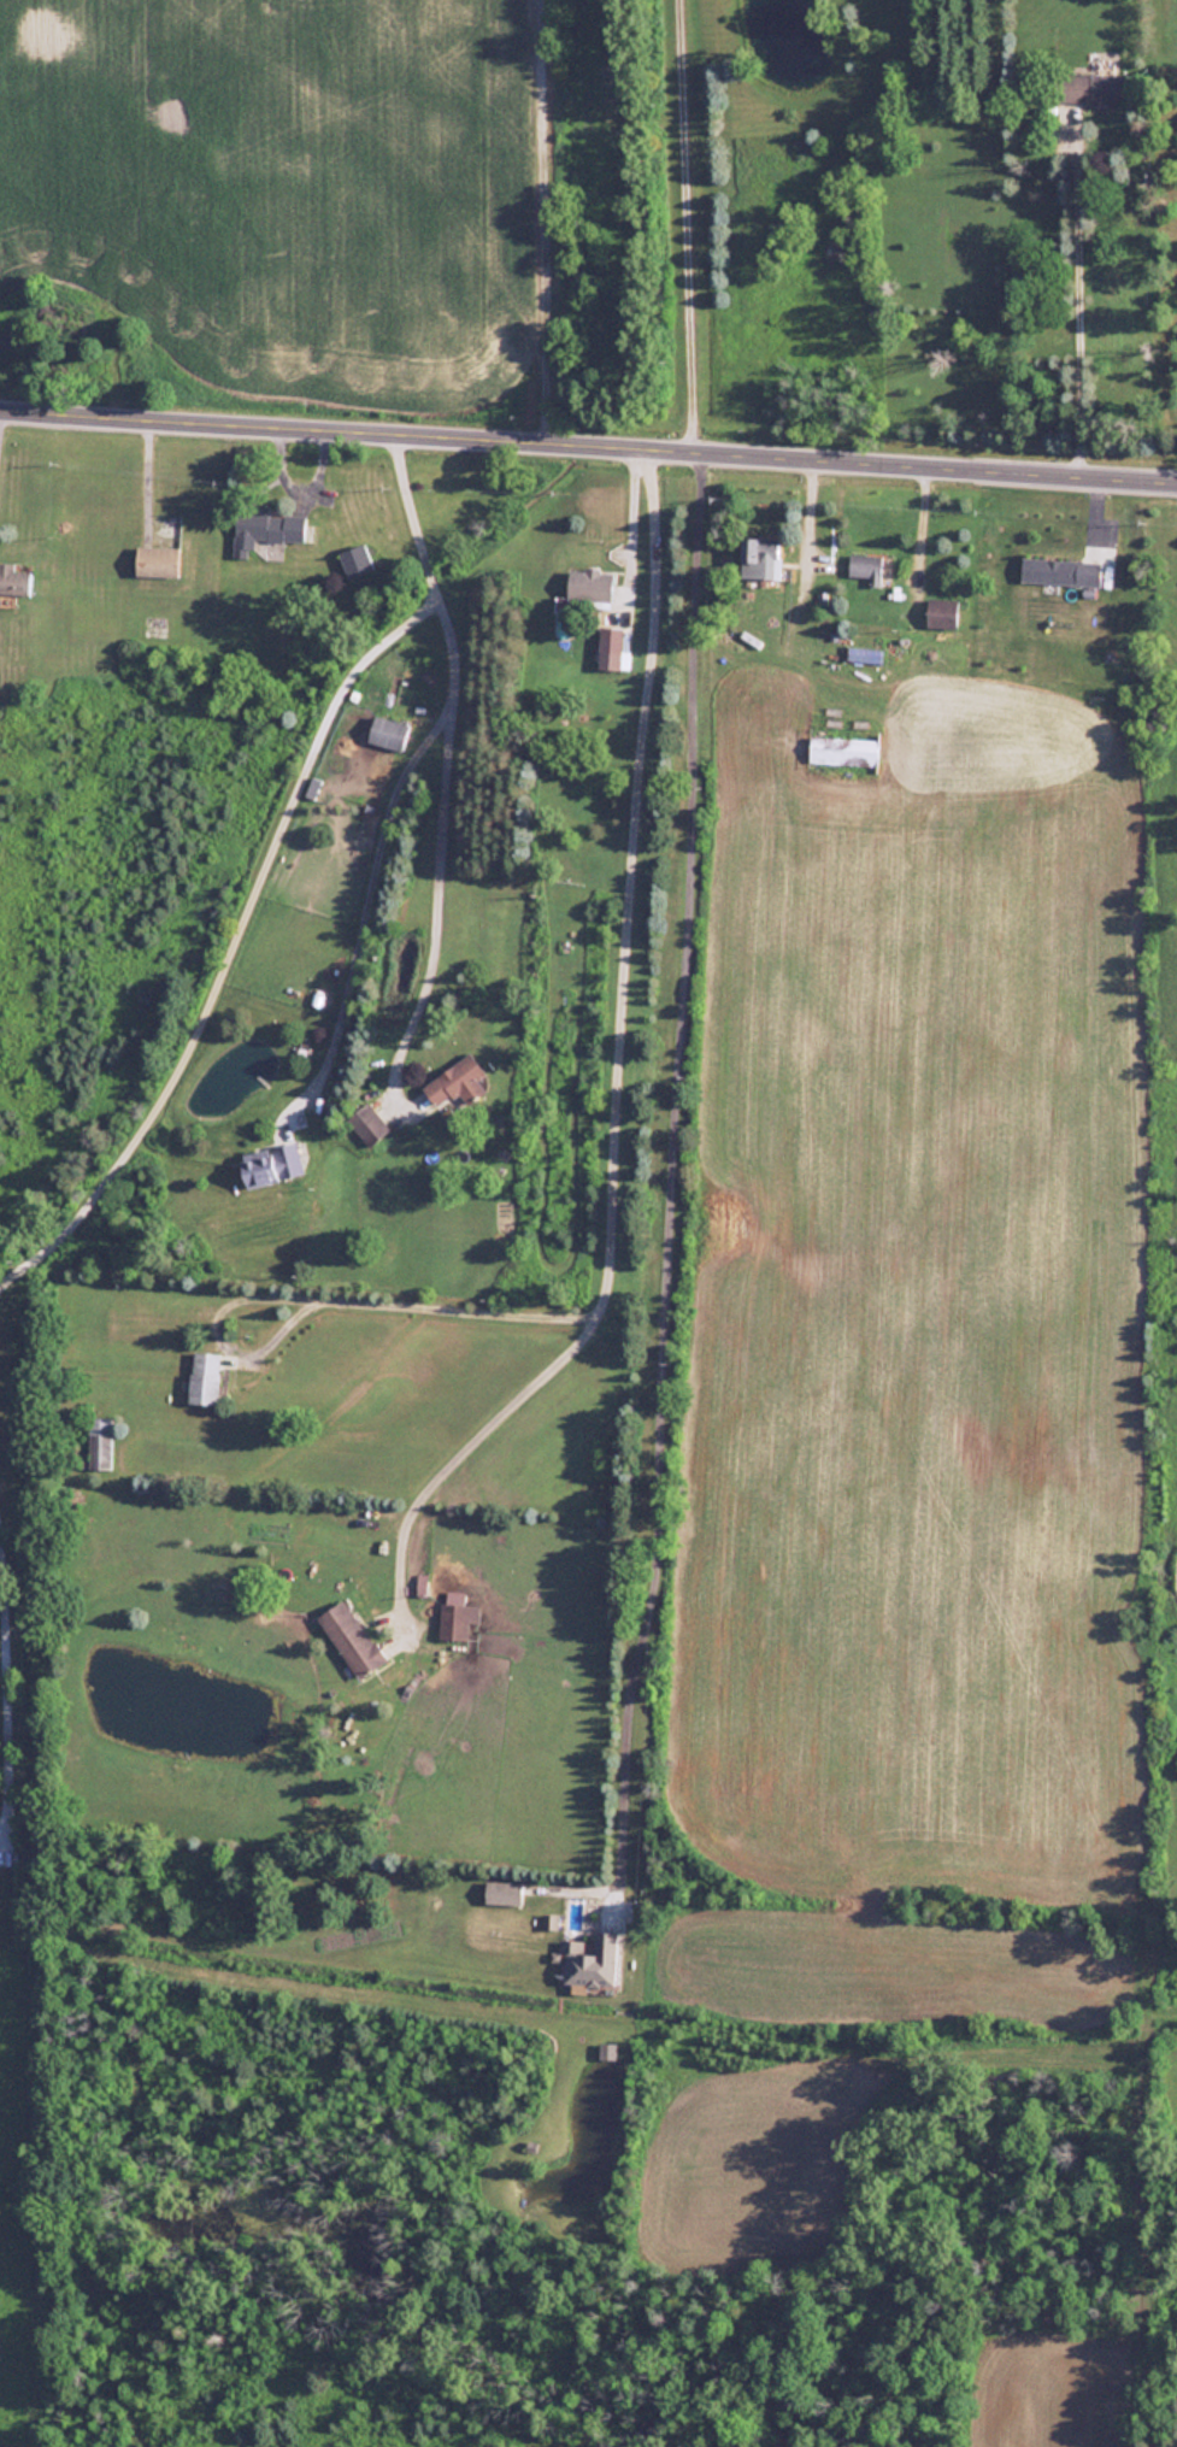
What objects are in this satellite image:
building: (1089, 87)
road: (679, 223)
road: (1071, 294)
road: (588, 441)
building: (265, 528)
building: (759, 557)
building: (155, 560)
building: (354, 560)
building: (864, 565)
building: (1047, 569)
building: (13, 580)
building: (590, 586)
building: (941, 612)
building: (608, 646)
road: (443, 700)
building: (387, 733)
building: (843, 749)
road: (365, 896)
road: (226, 937)
road: (618, 961)
building: (453, 1082)
building: (367, 1124)
building: (270, 1163)
road: (663, 1180)
road: (401, 1304)
building: (204, 1376)
building: (99, 1442)
road: (404, 1519)
building: (455, 1614)
building: (349, 1637)
road: (1, 1766)
building: (501, 1892)
building: (588, 1960)

